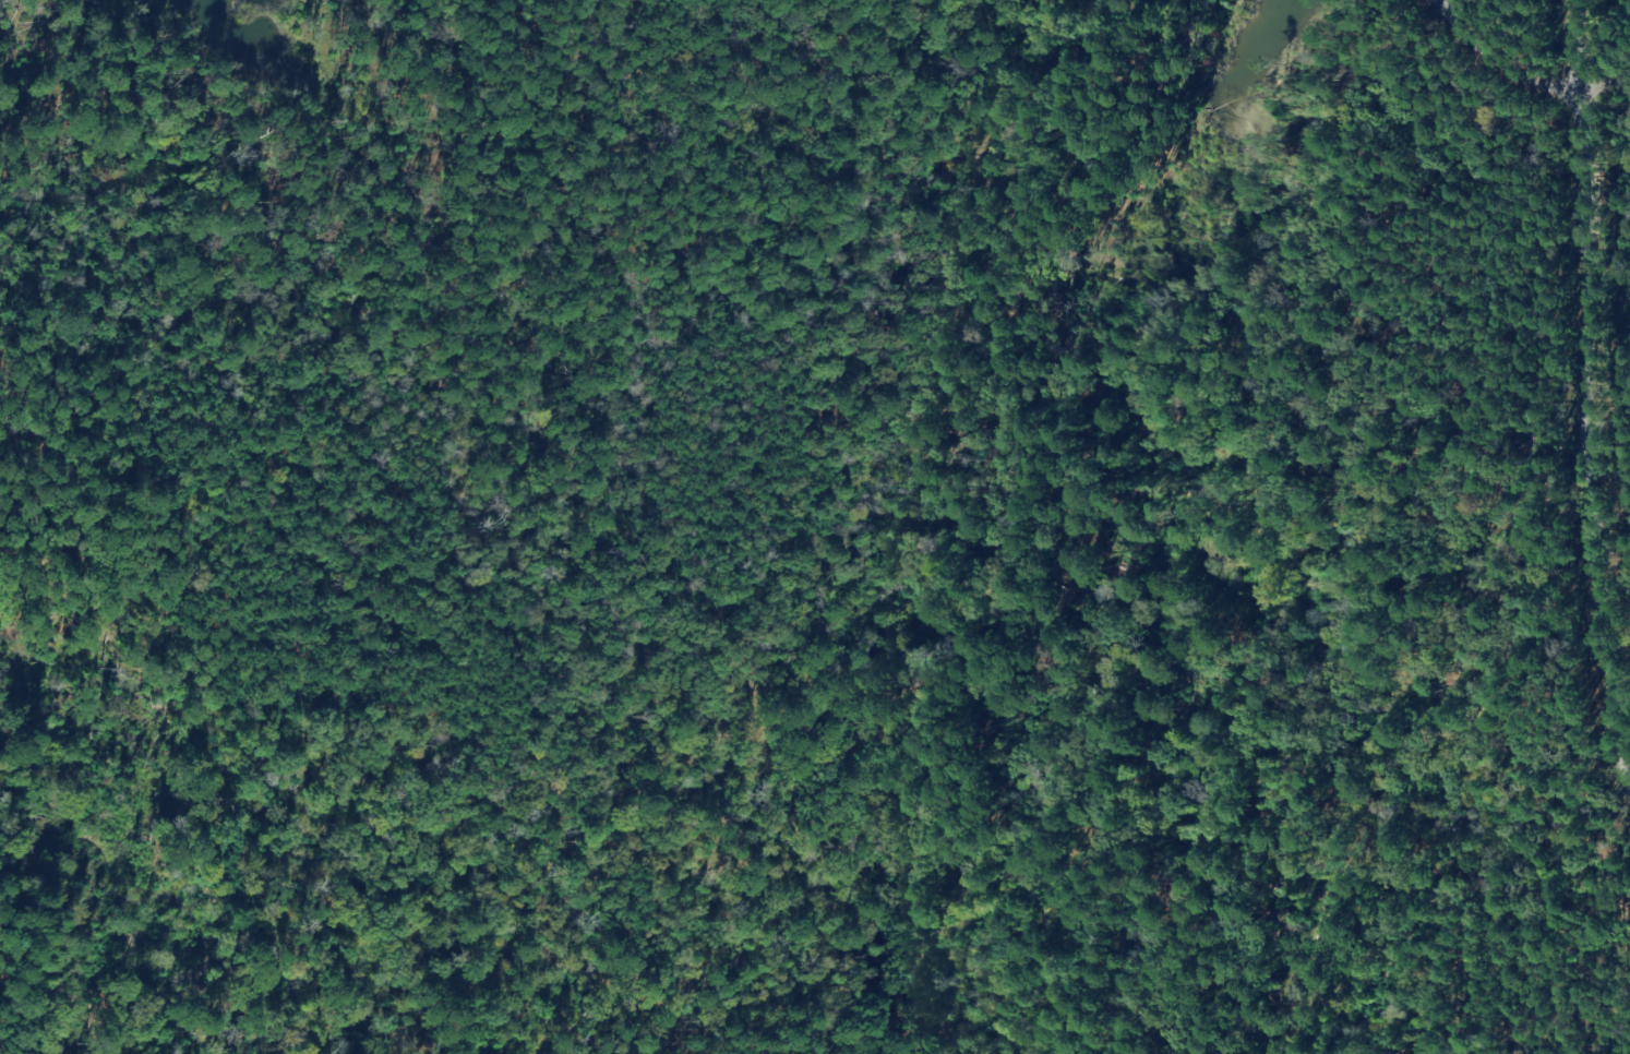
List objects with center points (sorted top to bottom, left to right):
road: (1481, 71)
road: (1581, 398)

